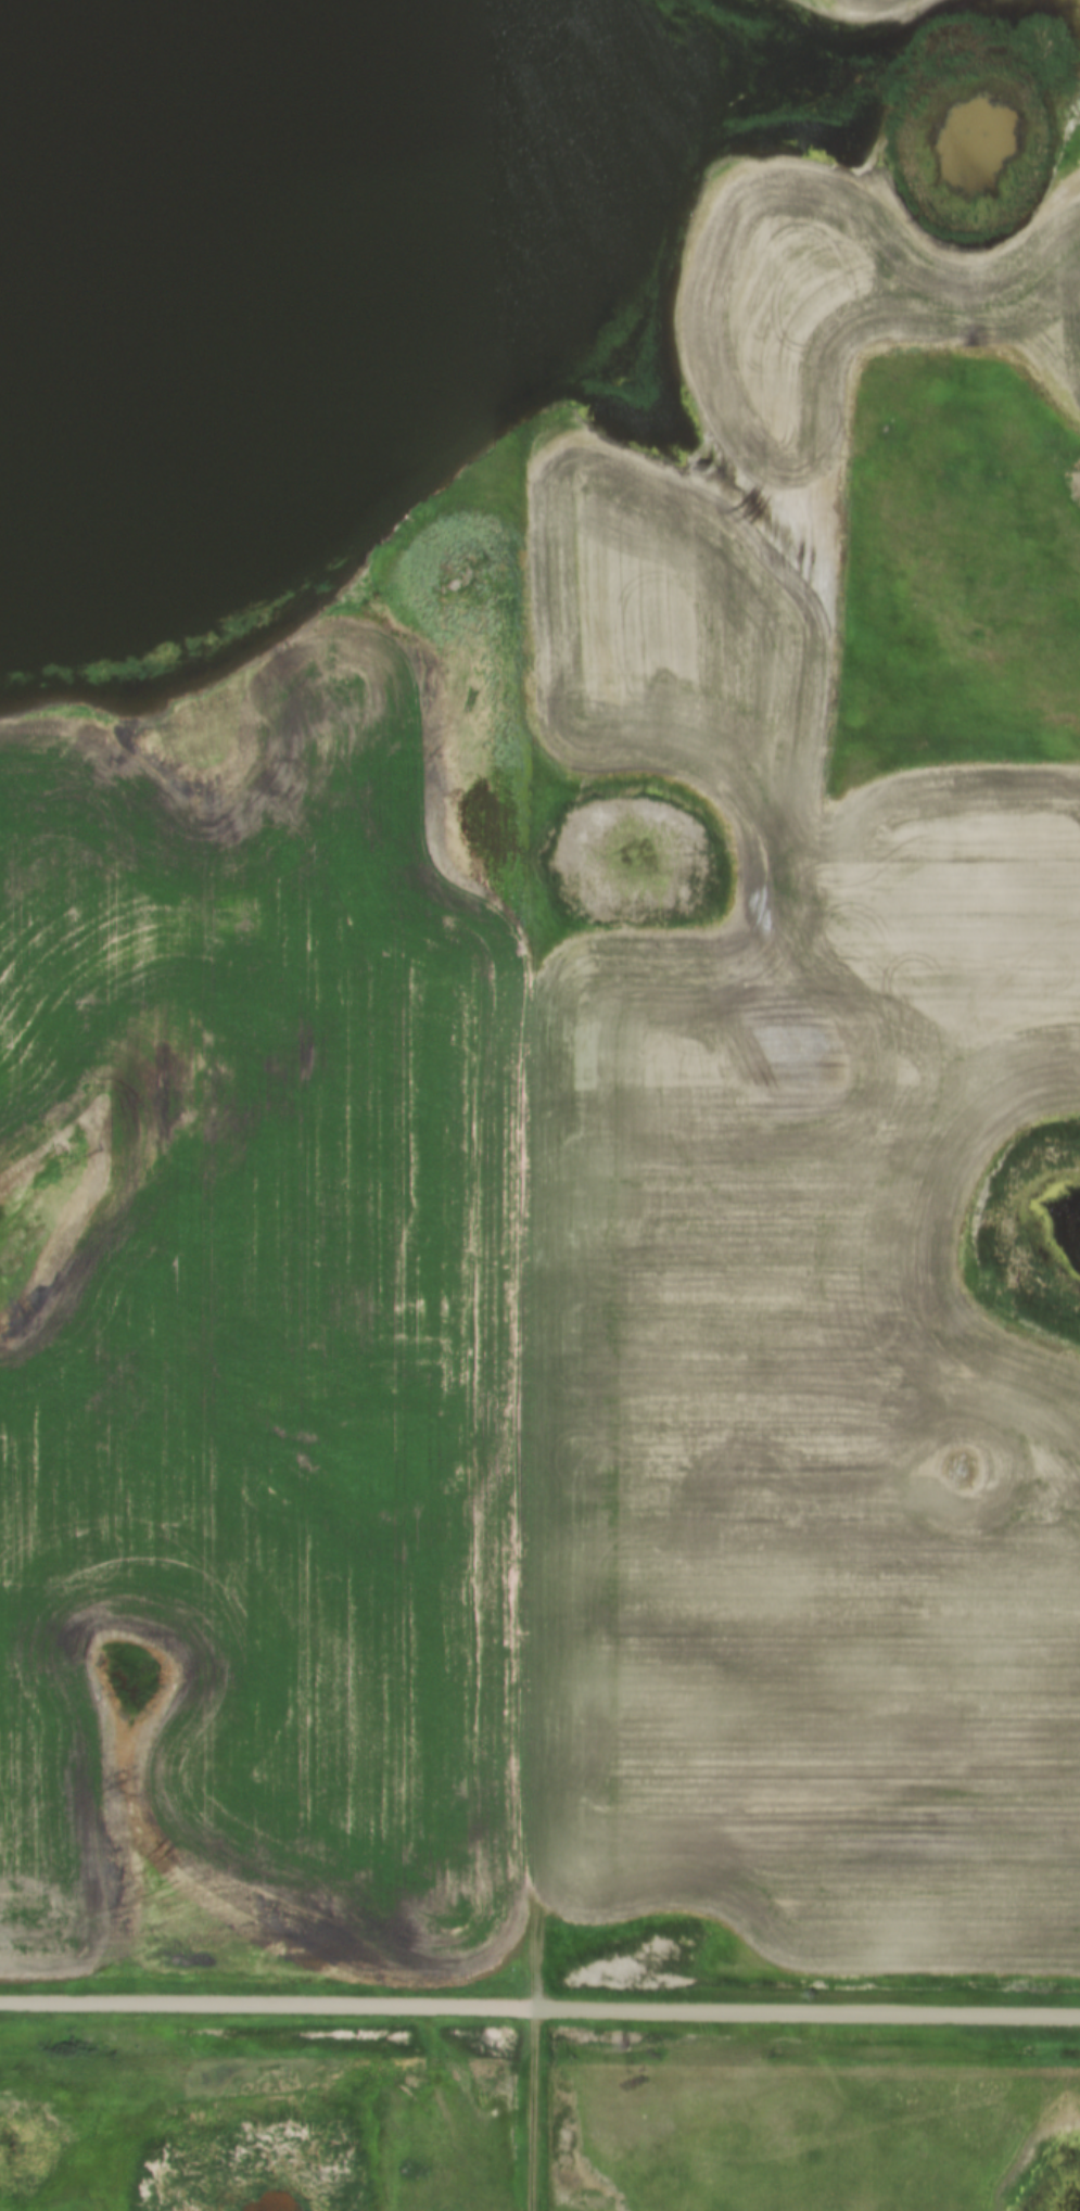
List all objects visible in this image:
road: (539, 2007)
road: (549, 2109)

